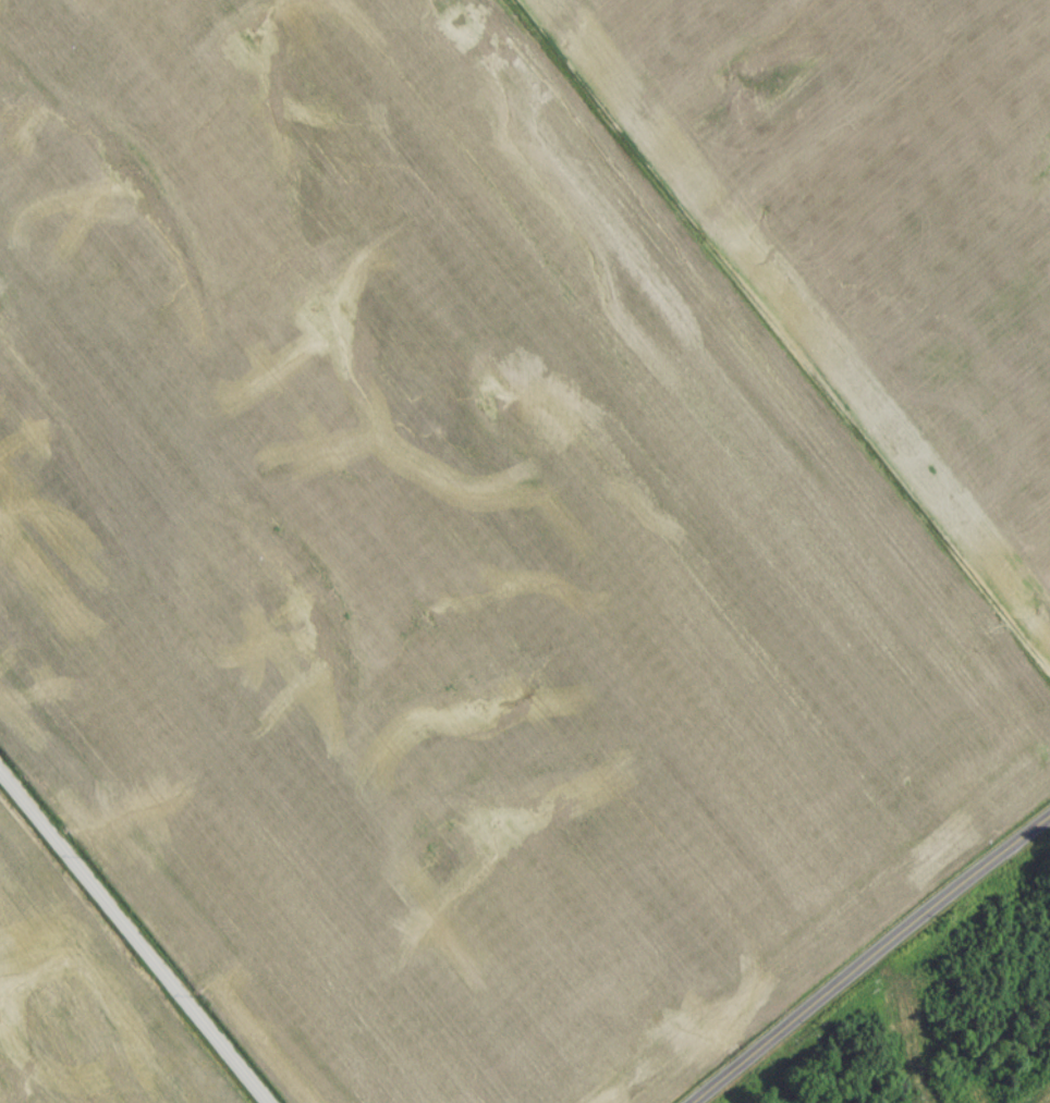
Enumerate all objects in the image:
road: (131, 940)
road: (878, 966)

